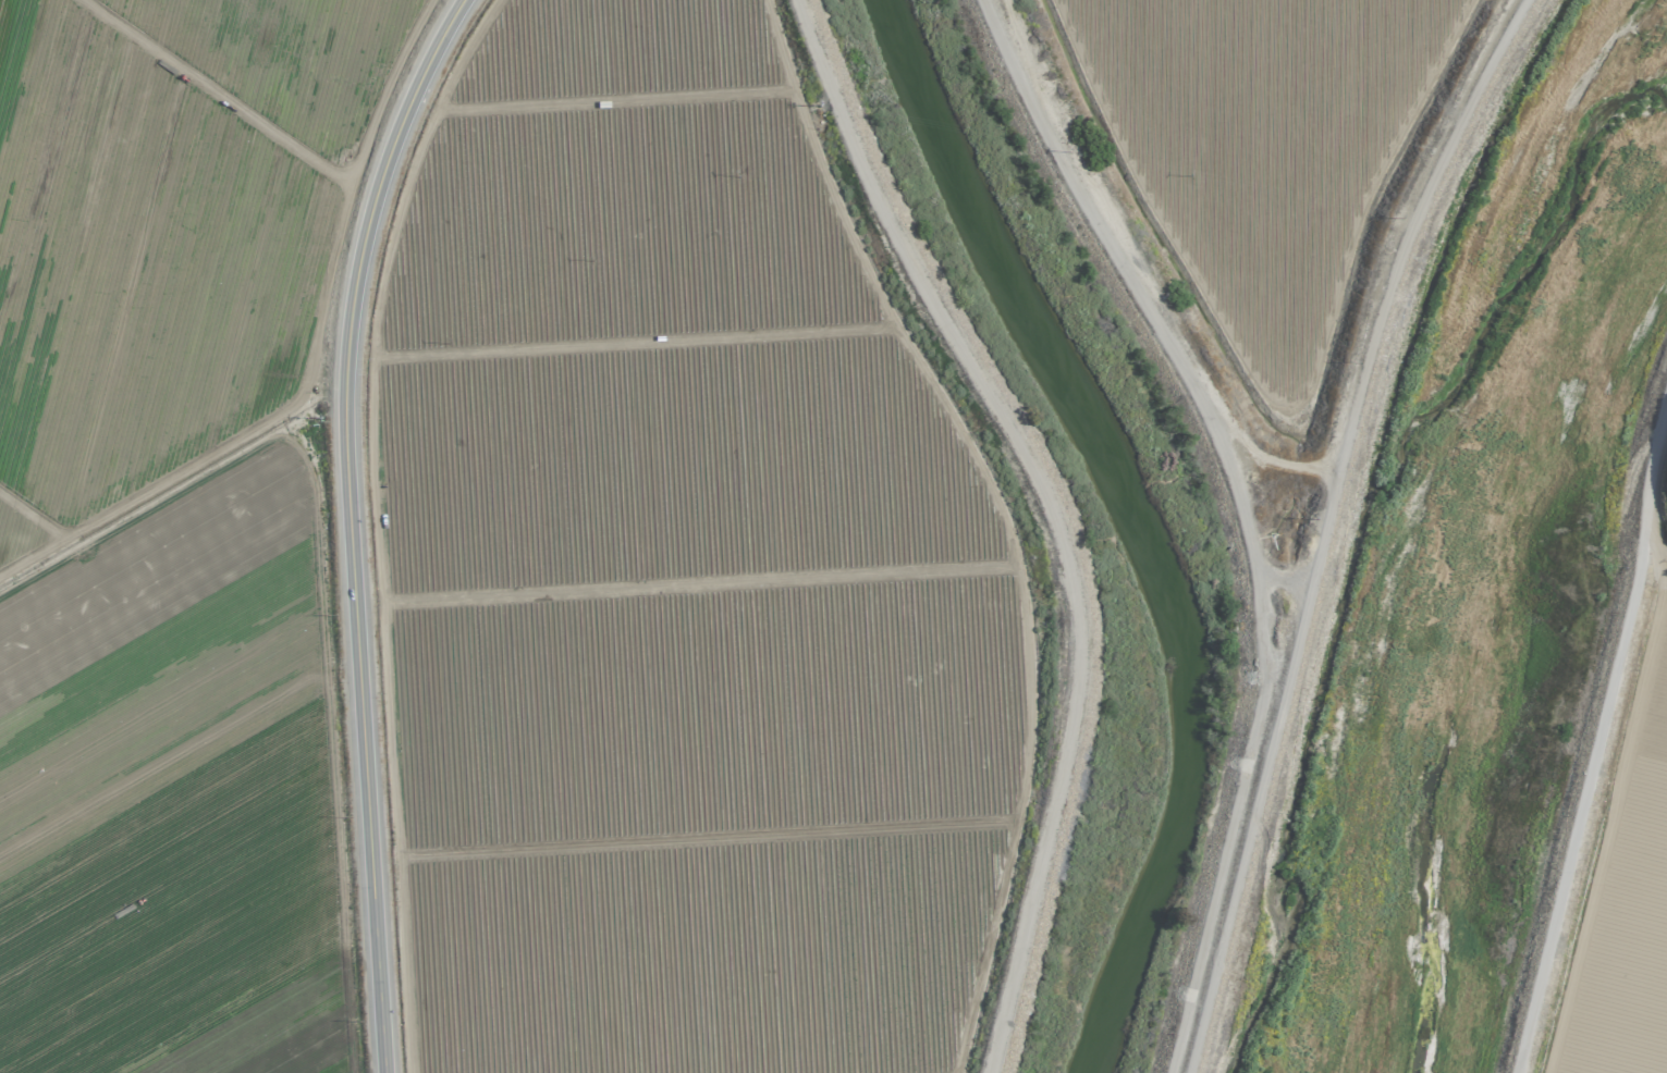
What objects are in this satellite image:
road: (1638, 456)
crop: (823, 474)
road: (348, 526)
crop: (169, 527)
river: (1425, 551)
road: (1660, 562)
road: (1659, 583)
road: (1594, 815)
crop: (1611, 887)

